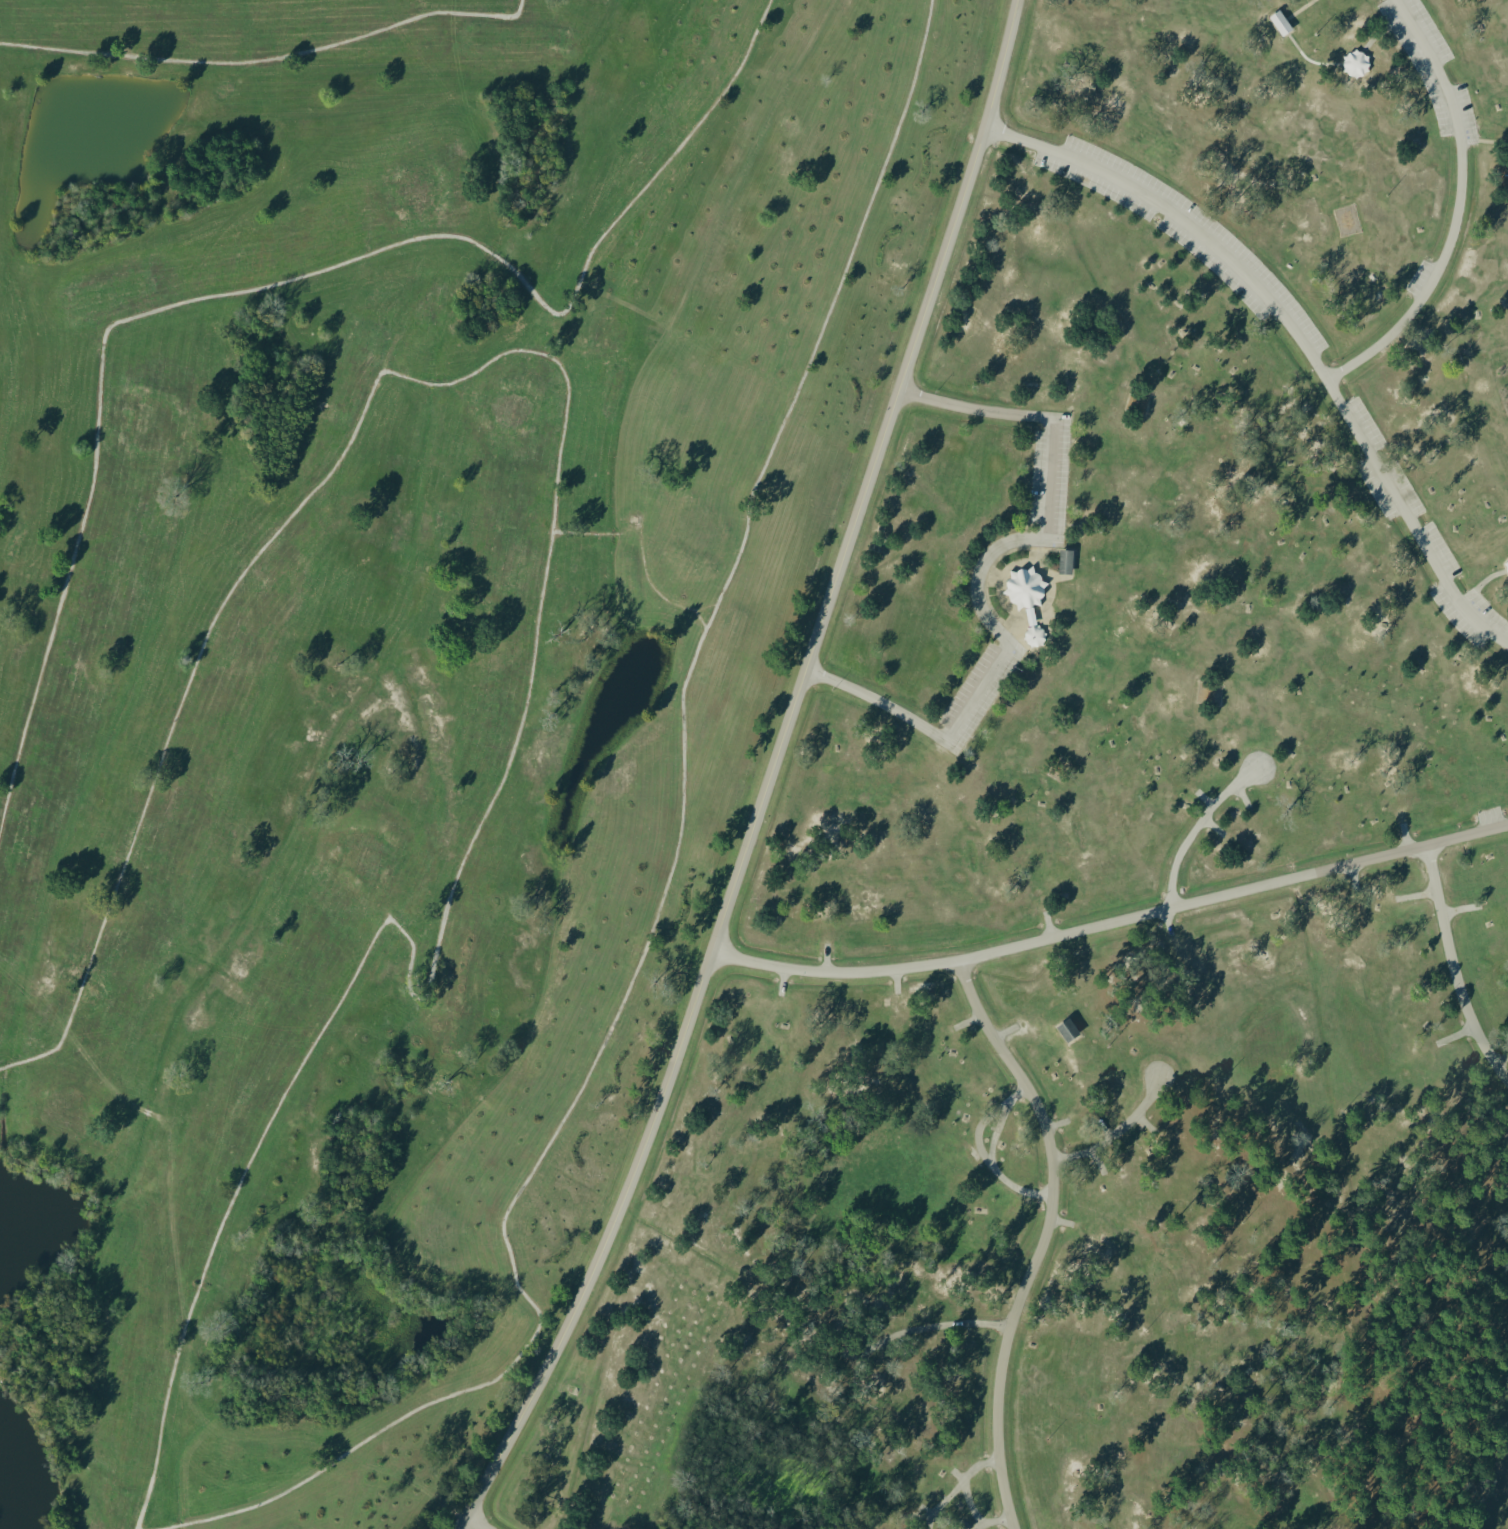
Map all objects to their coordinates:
road: (1295, 9)
parking lot: (1392, 17)
building: (1278, 24)
road: (1383, 28)
parking lot: (1399, 28)
road: (269, 60)
road: (1307, 60)
building: (1356, 62)
parking lot: (1432, 65)
parking lot: (1467, 131)
parking lot: (1468, 136)
road: (1486, 140)
park: (419, 189)
road: (1461, 208)
parking lot: (1184, 229)
parking lot: (1419, 275)
road: (283, 282)
road: (1297, 332)
road: (565, 377)
street lamp: (934, 391)
park: (510, 409)
park: (152, 426)
parking lot: (1048, 474)
street lamp: (1066, 522)
park: (697, 527)
parking lot: (1423, 535)
parking lot: (1055, 544)
road: (1018, 545)
road: (1033, 551)
building: (1507, 556)
building: (1063, 558)
road: (999, 559)
building: (1506, 565)
road: (981, 571)
road: (1054, 574)
road: (989, 575)
road: (1481, 580)
building: (1022, 587)
road: (988, 594)
parking lot: (1470, 600)
parking lot: (1476, 608)
road: (711, 614)
road: (1025, 614)
road: (995, 615)
building: (1028, 616)
road: (1028, 617)
road: (1008, 622)
building: (1032, 634)
parking lot: (1015, 654)
street lamp: (1016, 661)
park: (391, 673)
street lamp: (830, 689)
parking lot: (975, 690)
street lamp: (970, 737)
park: (754, 764)
road: (772, 777)
road: (1241, 795)
road: (1206, 800)
parking lot: (1490, 815)
road: (1212, 826)
road: (1196, 828)
road: (1403, 837)
park: (364, 852)
road: (1350, 875)
road: (1416, 895)
road: (1458, 908)
road: (1114, 919)
road: (1047, 923)
road: (1167, 927)
road: (369, 949)
road: (824, 957)
road: (1453, 966)
road: (893, 977)
road: (780, 980)
road: (968, 1018)
building: (1065, 1028)
road: (1005, 1029)
road: (1453, 1033)
road: (1501, 1055)
park: (64, 1113)
road: (1055, 1121)
road: (979, 1129)
road: (1119, 1129)
road: (1507, 1140)
road: (990, 1152)
road: (1096, 1158)
road: (531, 1175)
road: (1060, 1220)
park: (436, 1226)
road: (1044, 1236)
road: (936, 1323)
road: (1363, 1323)
building: (852, 1345)
road: (956, 1474)
road: (957, 1486)
road: (971, 1502)
road: (924, 1510)
road: (994, 1520)
road: (476, 1522)

